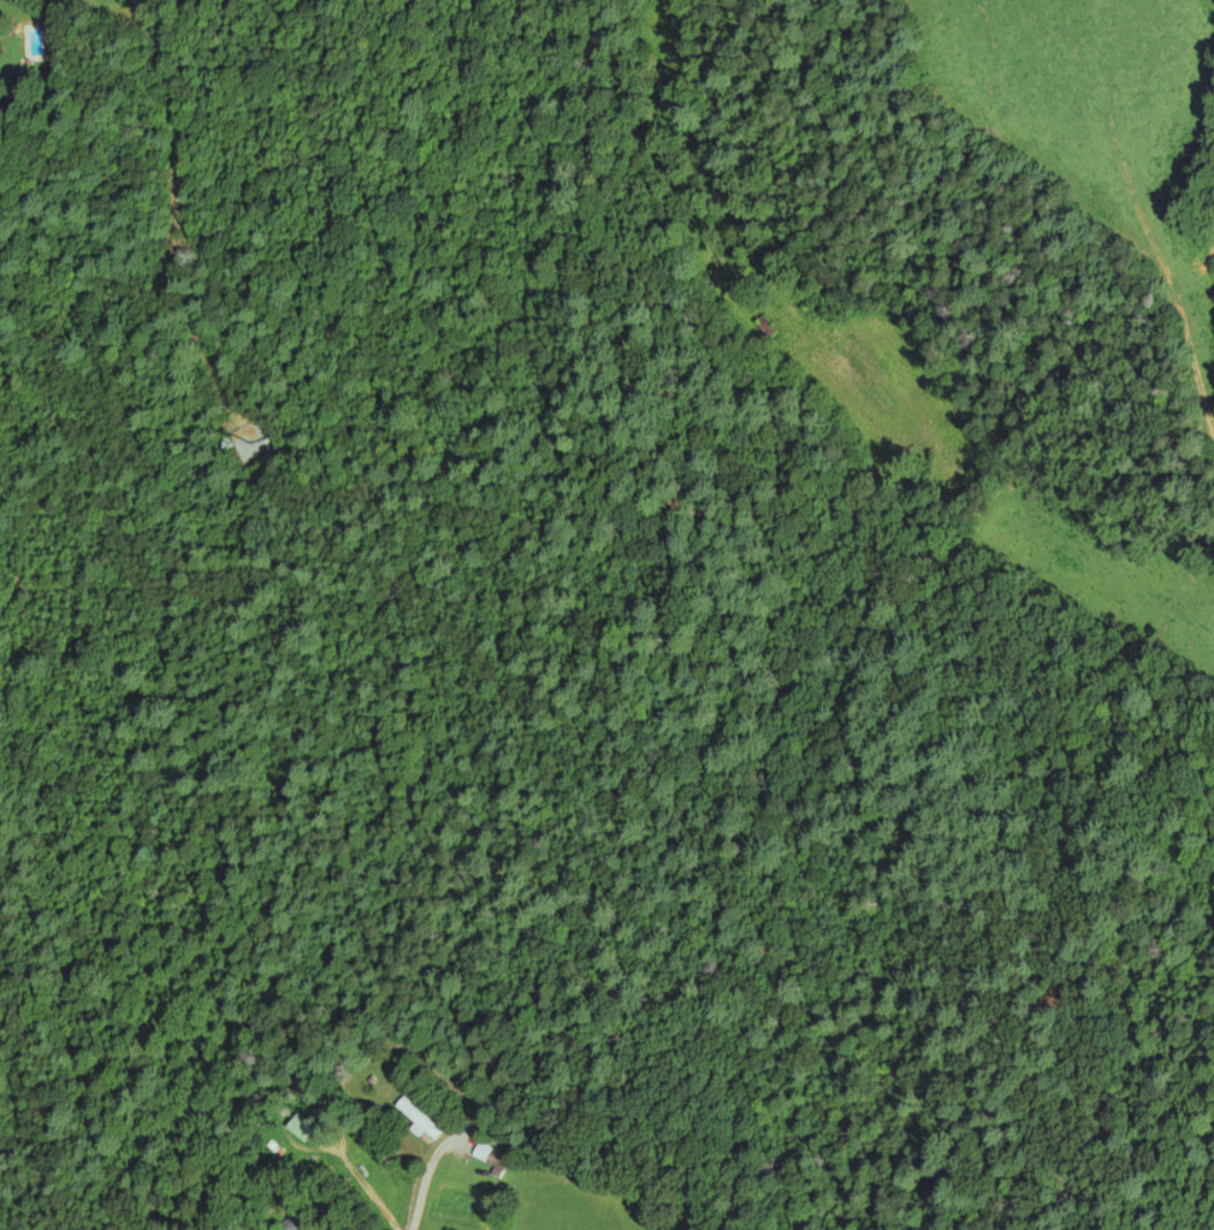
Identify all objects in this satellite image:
building: (763, 328)
building: (418, 1119)
building: (490, 1157)
road: (420, 1181)
building: (289, 1225)

